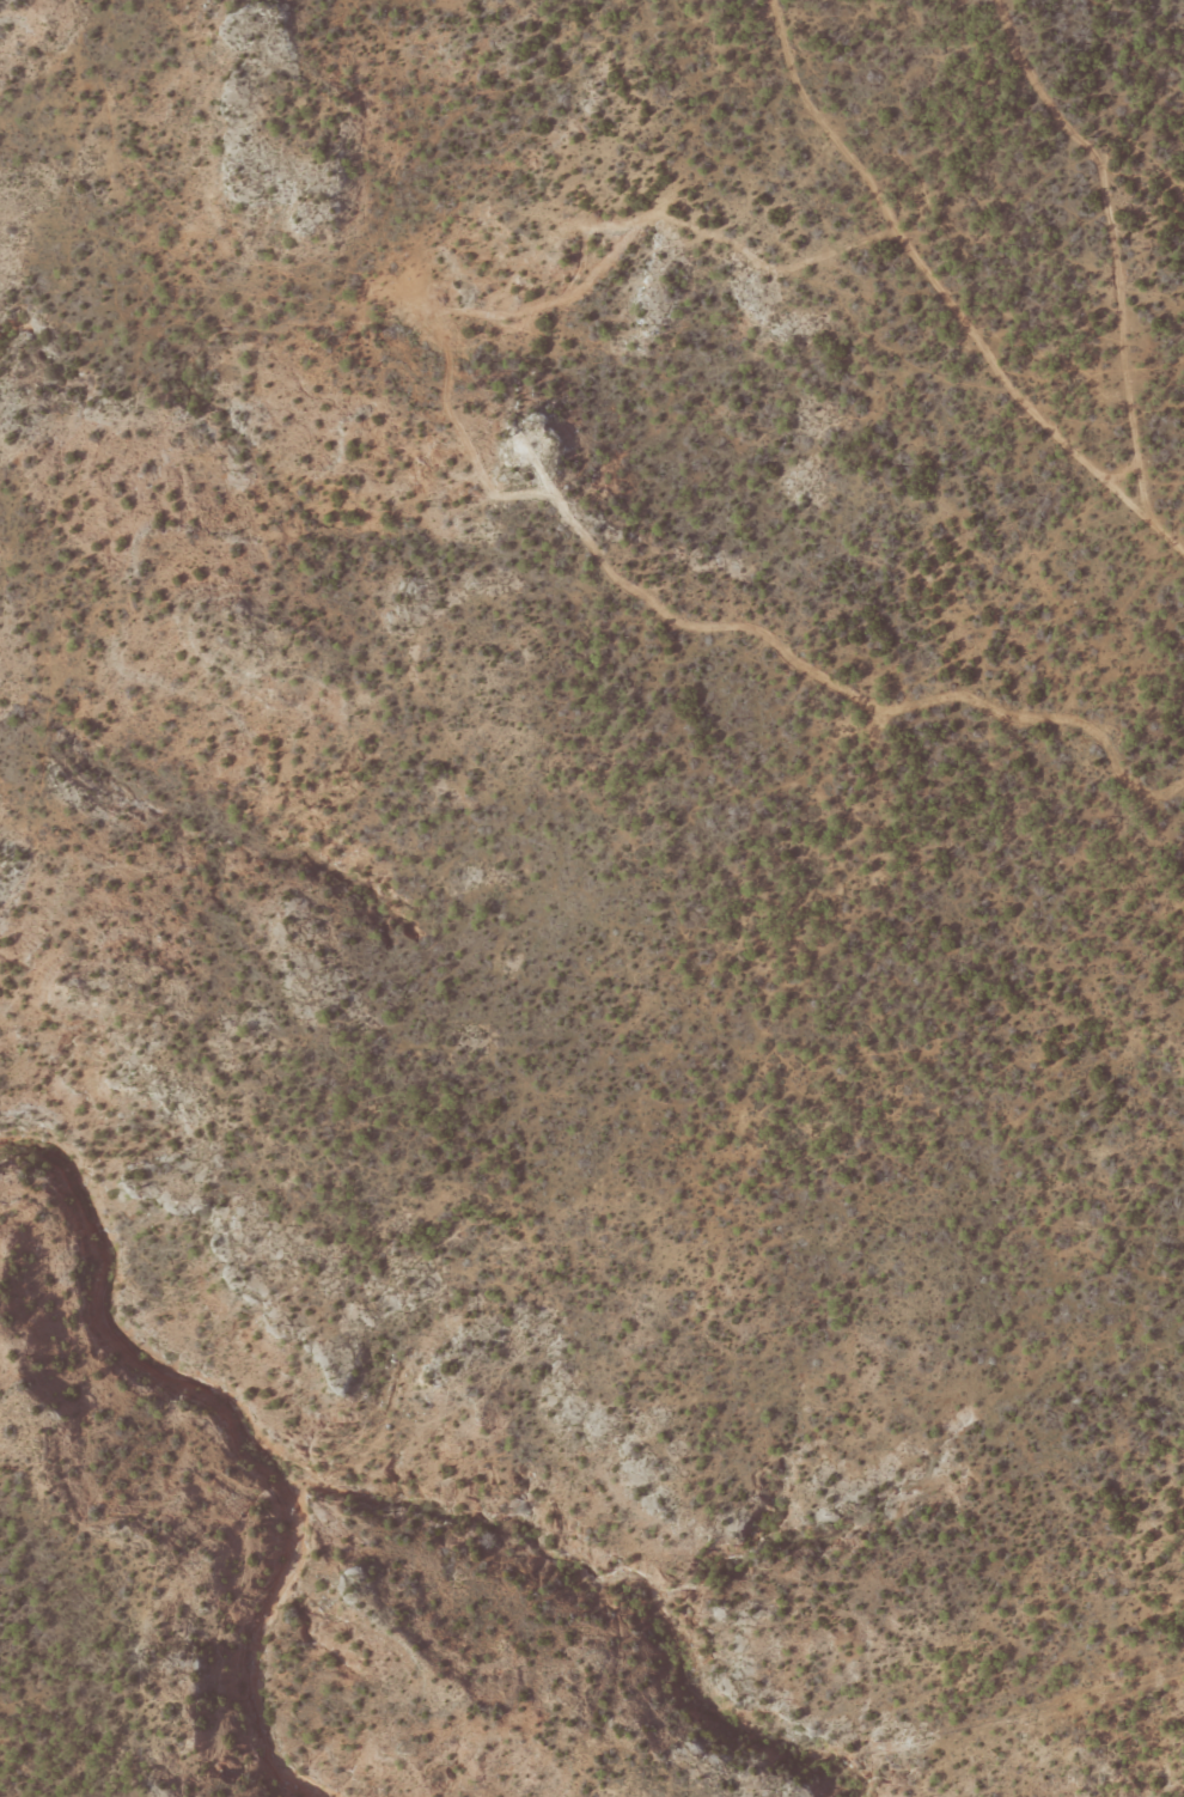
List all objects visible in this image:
road: (929, 316)

